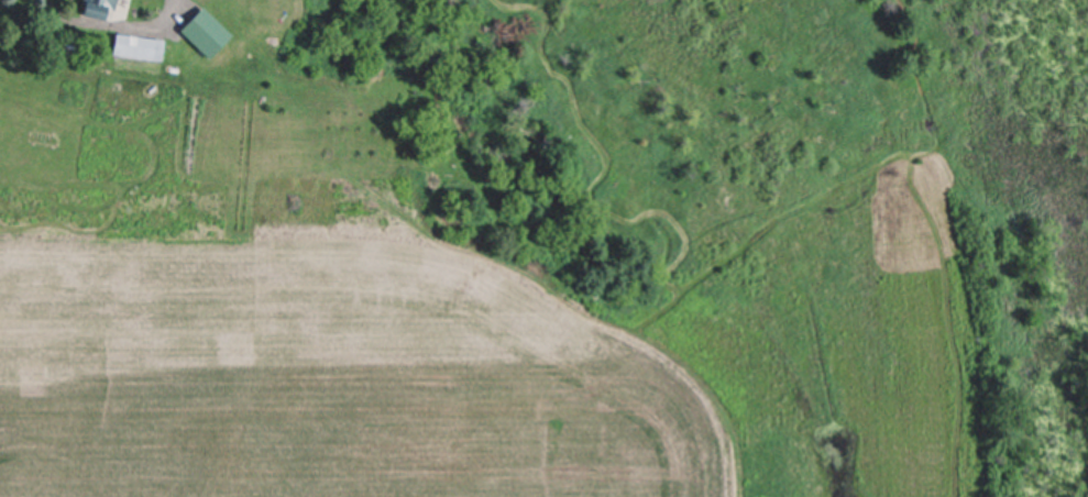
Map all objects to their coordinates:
building: (94, 9)
road: (117, 26)

